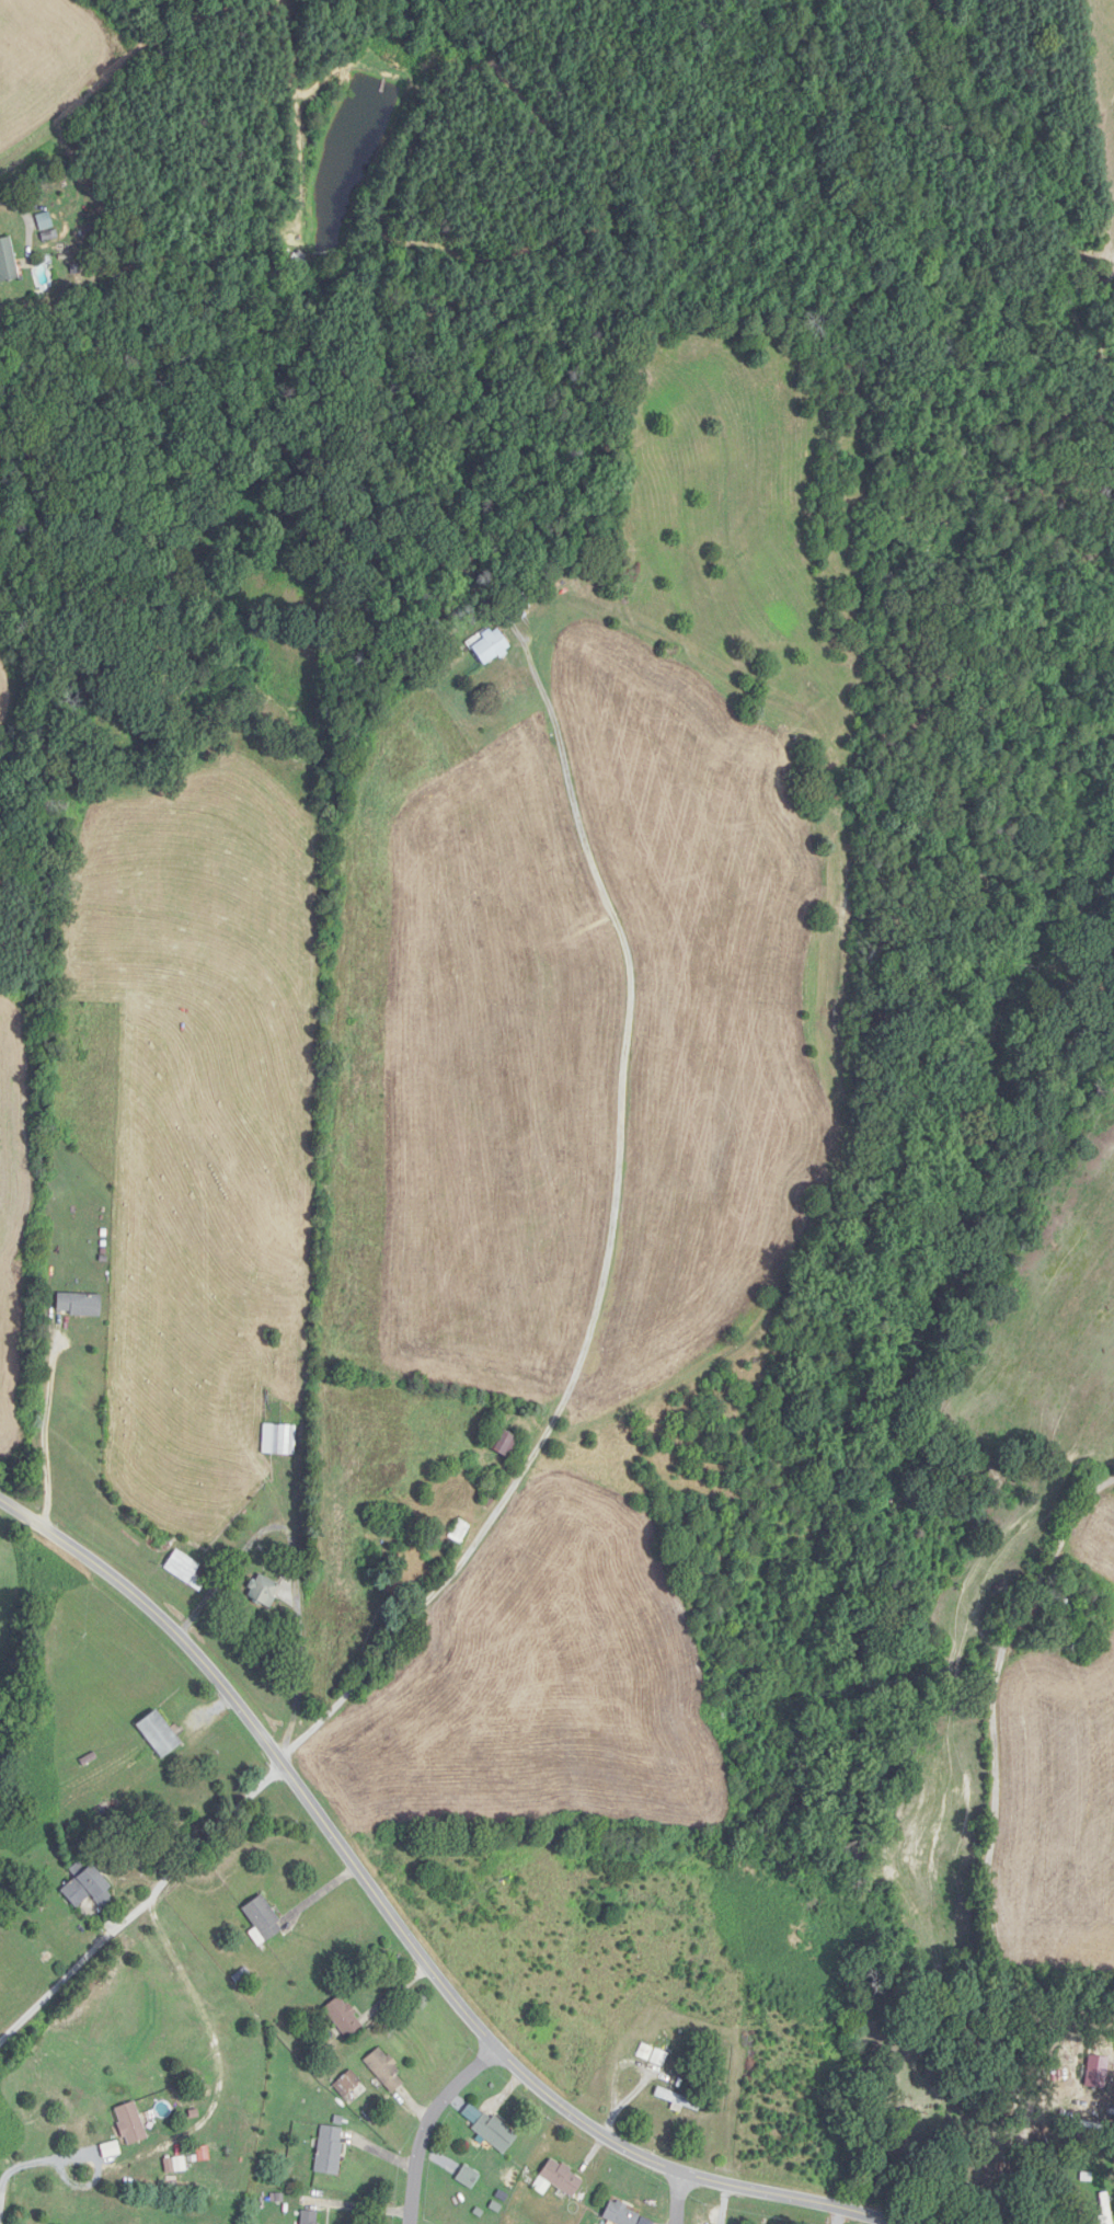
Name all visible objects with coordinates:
building: (46, 227)
building: (297, 256)
building: (8, 262)
building: (515, 616)
building: (492, 647)
road: (611, 1238)
building: (80, 1305)
road: (45, 1432)
building: (279, 1438)
building: (510, 1443)
building: (461, 1531)
road: (295, 1568)
building: (186, 1570)
building: (264, 1590)
building: (1058, 1600)
building: (161, 1733)
road: (989, 1836)
building: (89, 1887)
building: (486, 1896)
road: (141, 1899)
building: (264, 1918)
road: (403, 1929)
building: (345, 2017)
building: (654, 2054)
building: (387, 2070)
building: (348, 2085)
building: (679, 2099)
road: (426, 2120)
building: (131, 2123)
building: (496, 2132)
building: (331, 2150)
road: (87, 2152)
building: (469, 2176)
building: (560, 2179)
road: (1, 2194)
road: (676, 2198)
building: (627, 2215)
building: (311, 2217)

